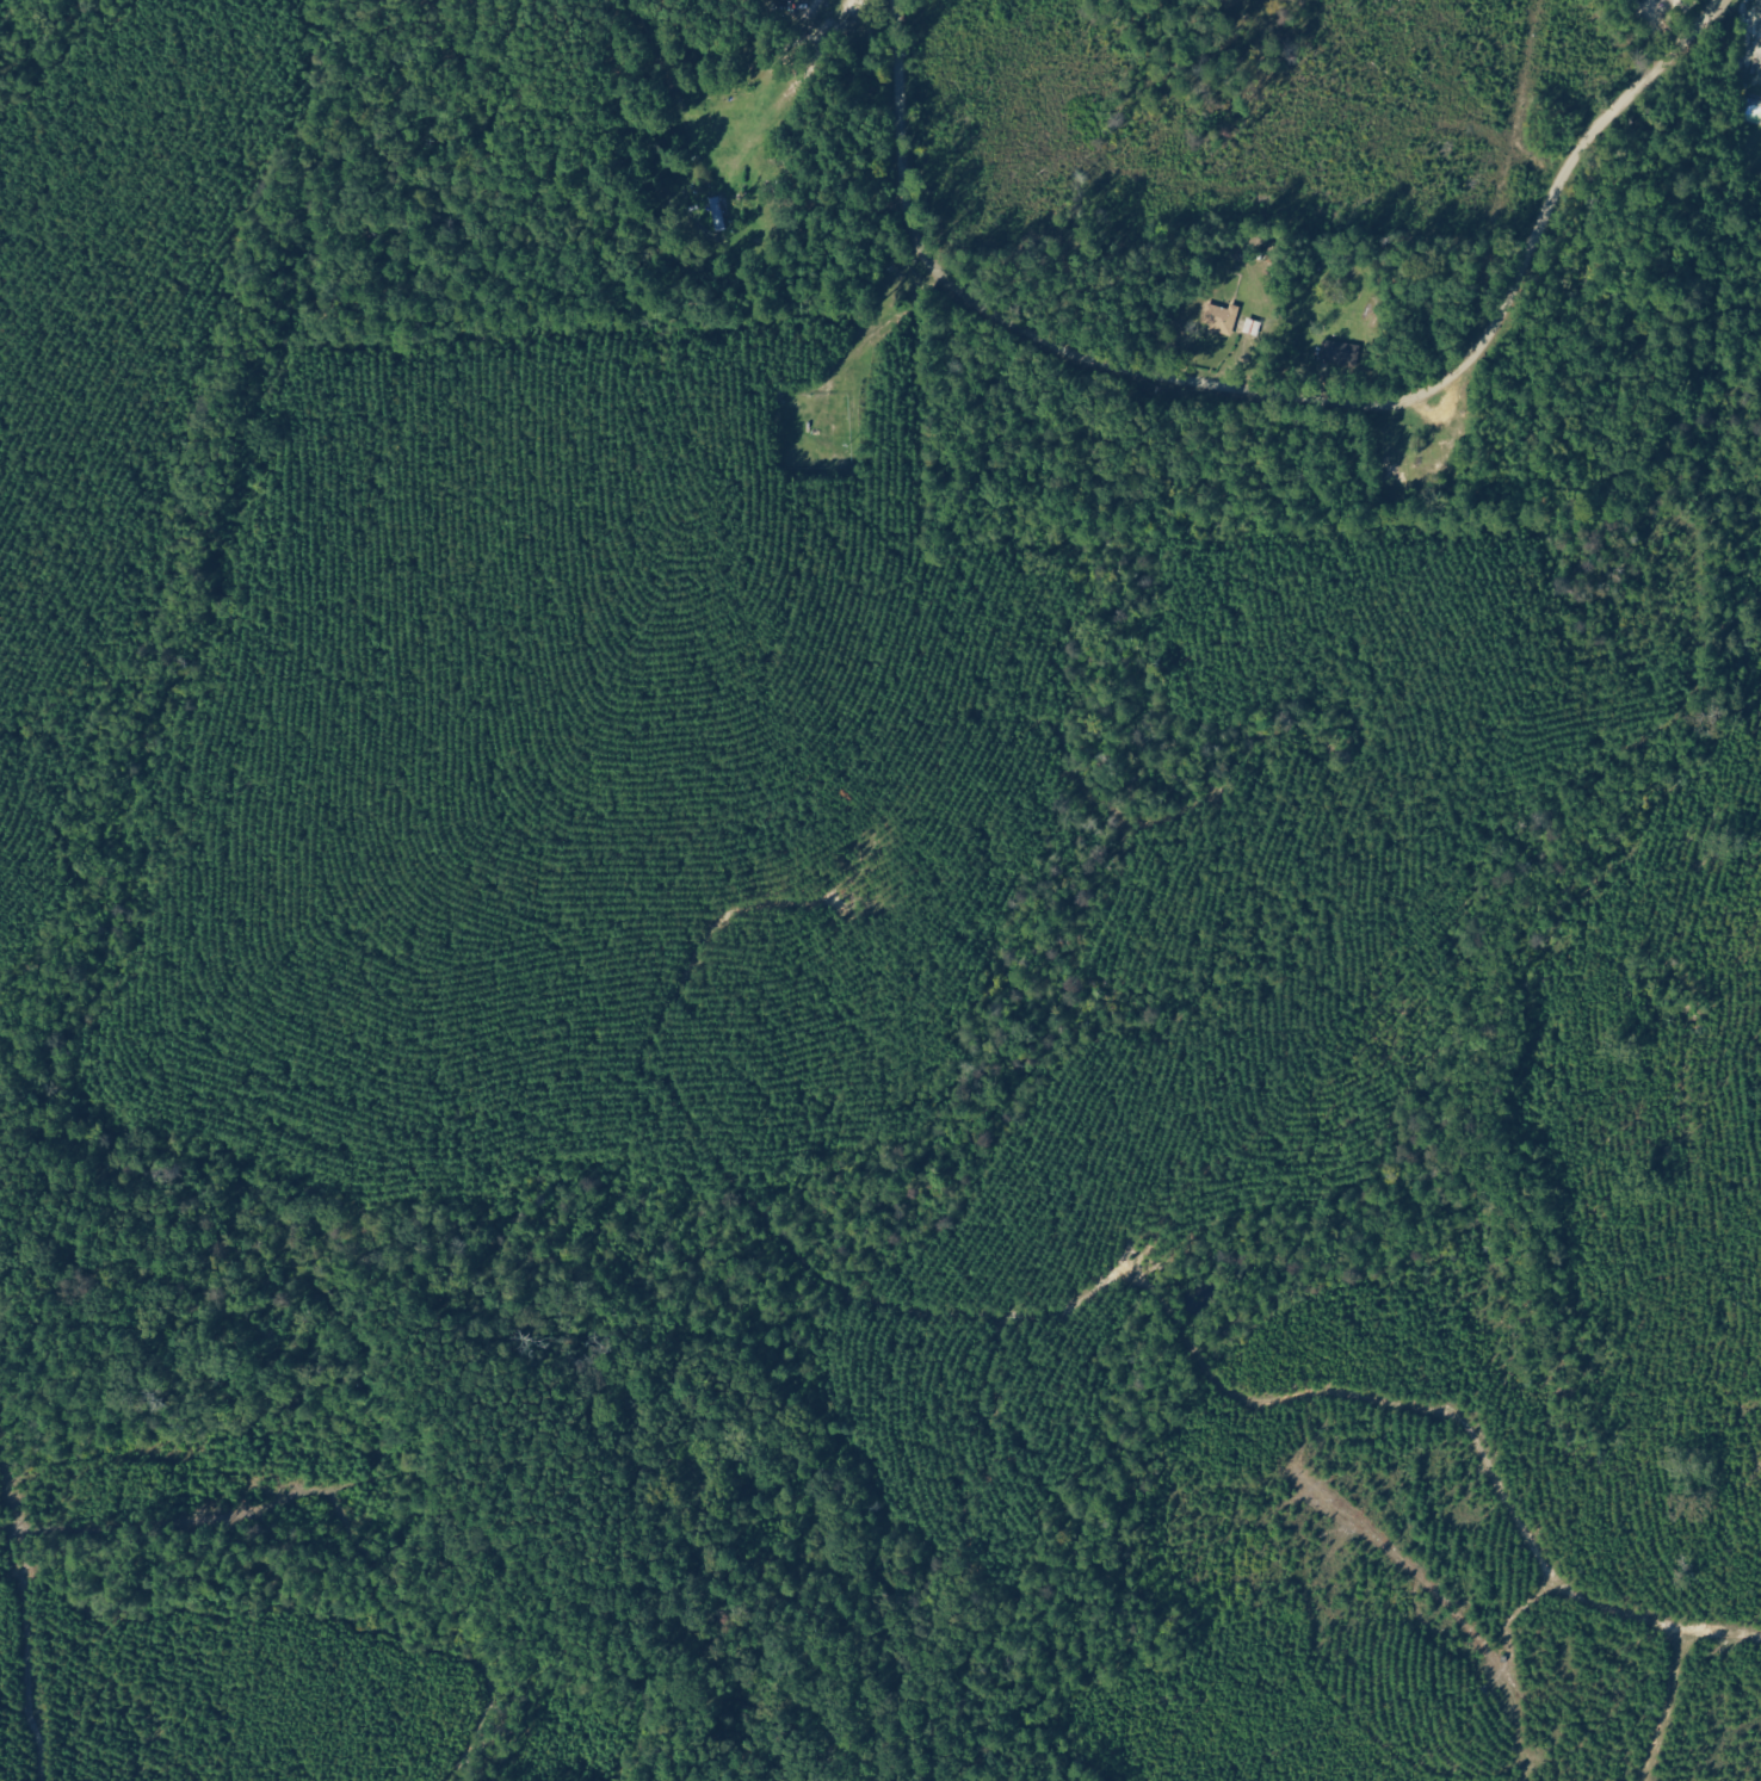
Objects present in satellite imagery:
building: (719, 214)
building: (1222, 319)
road: (1281, 395)

